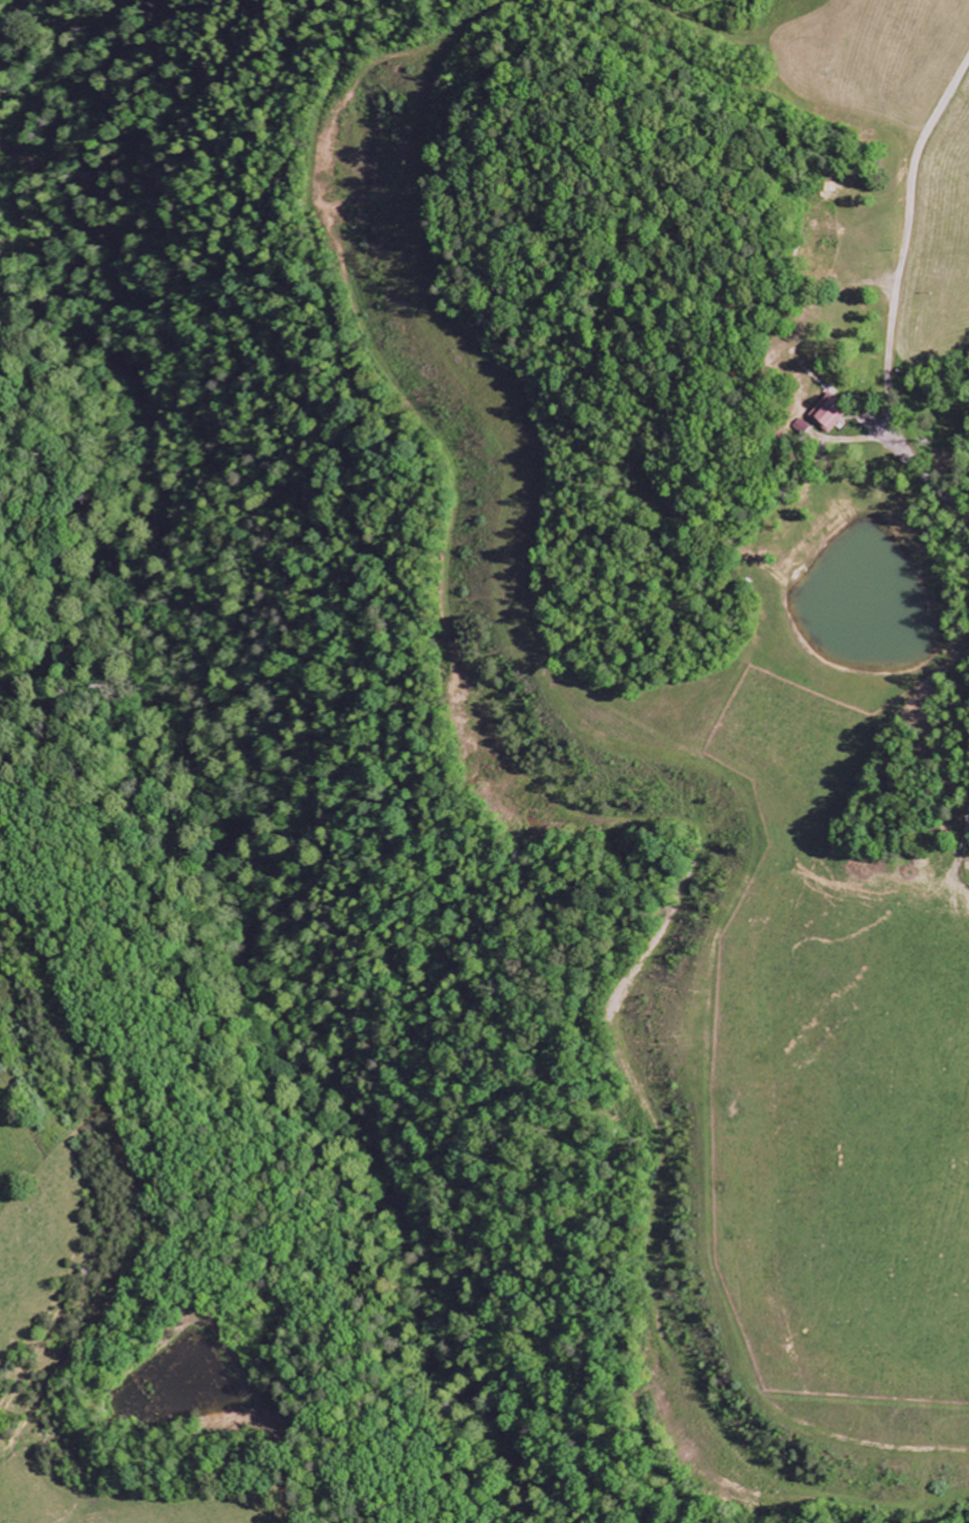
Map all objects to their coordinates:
building: (826, 414)
road: (923, 477)

